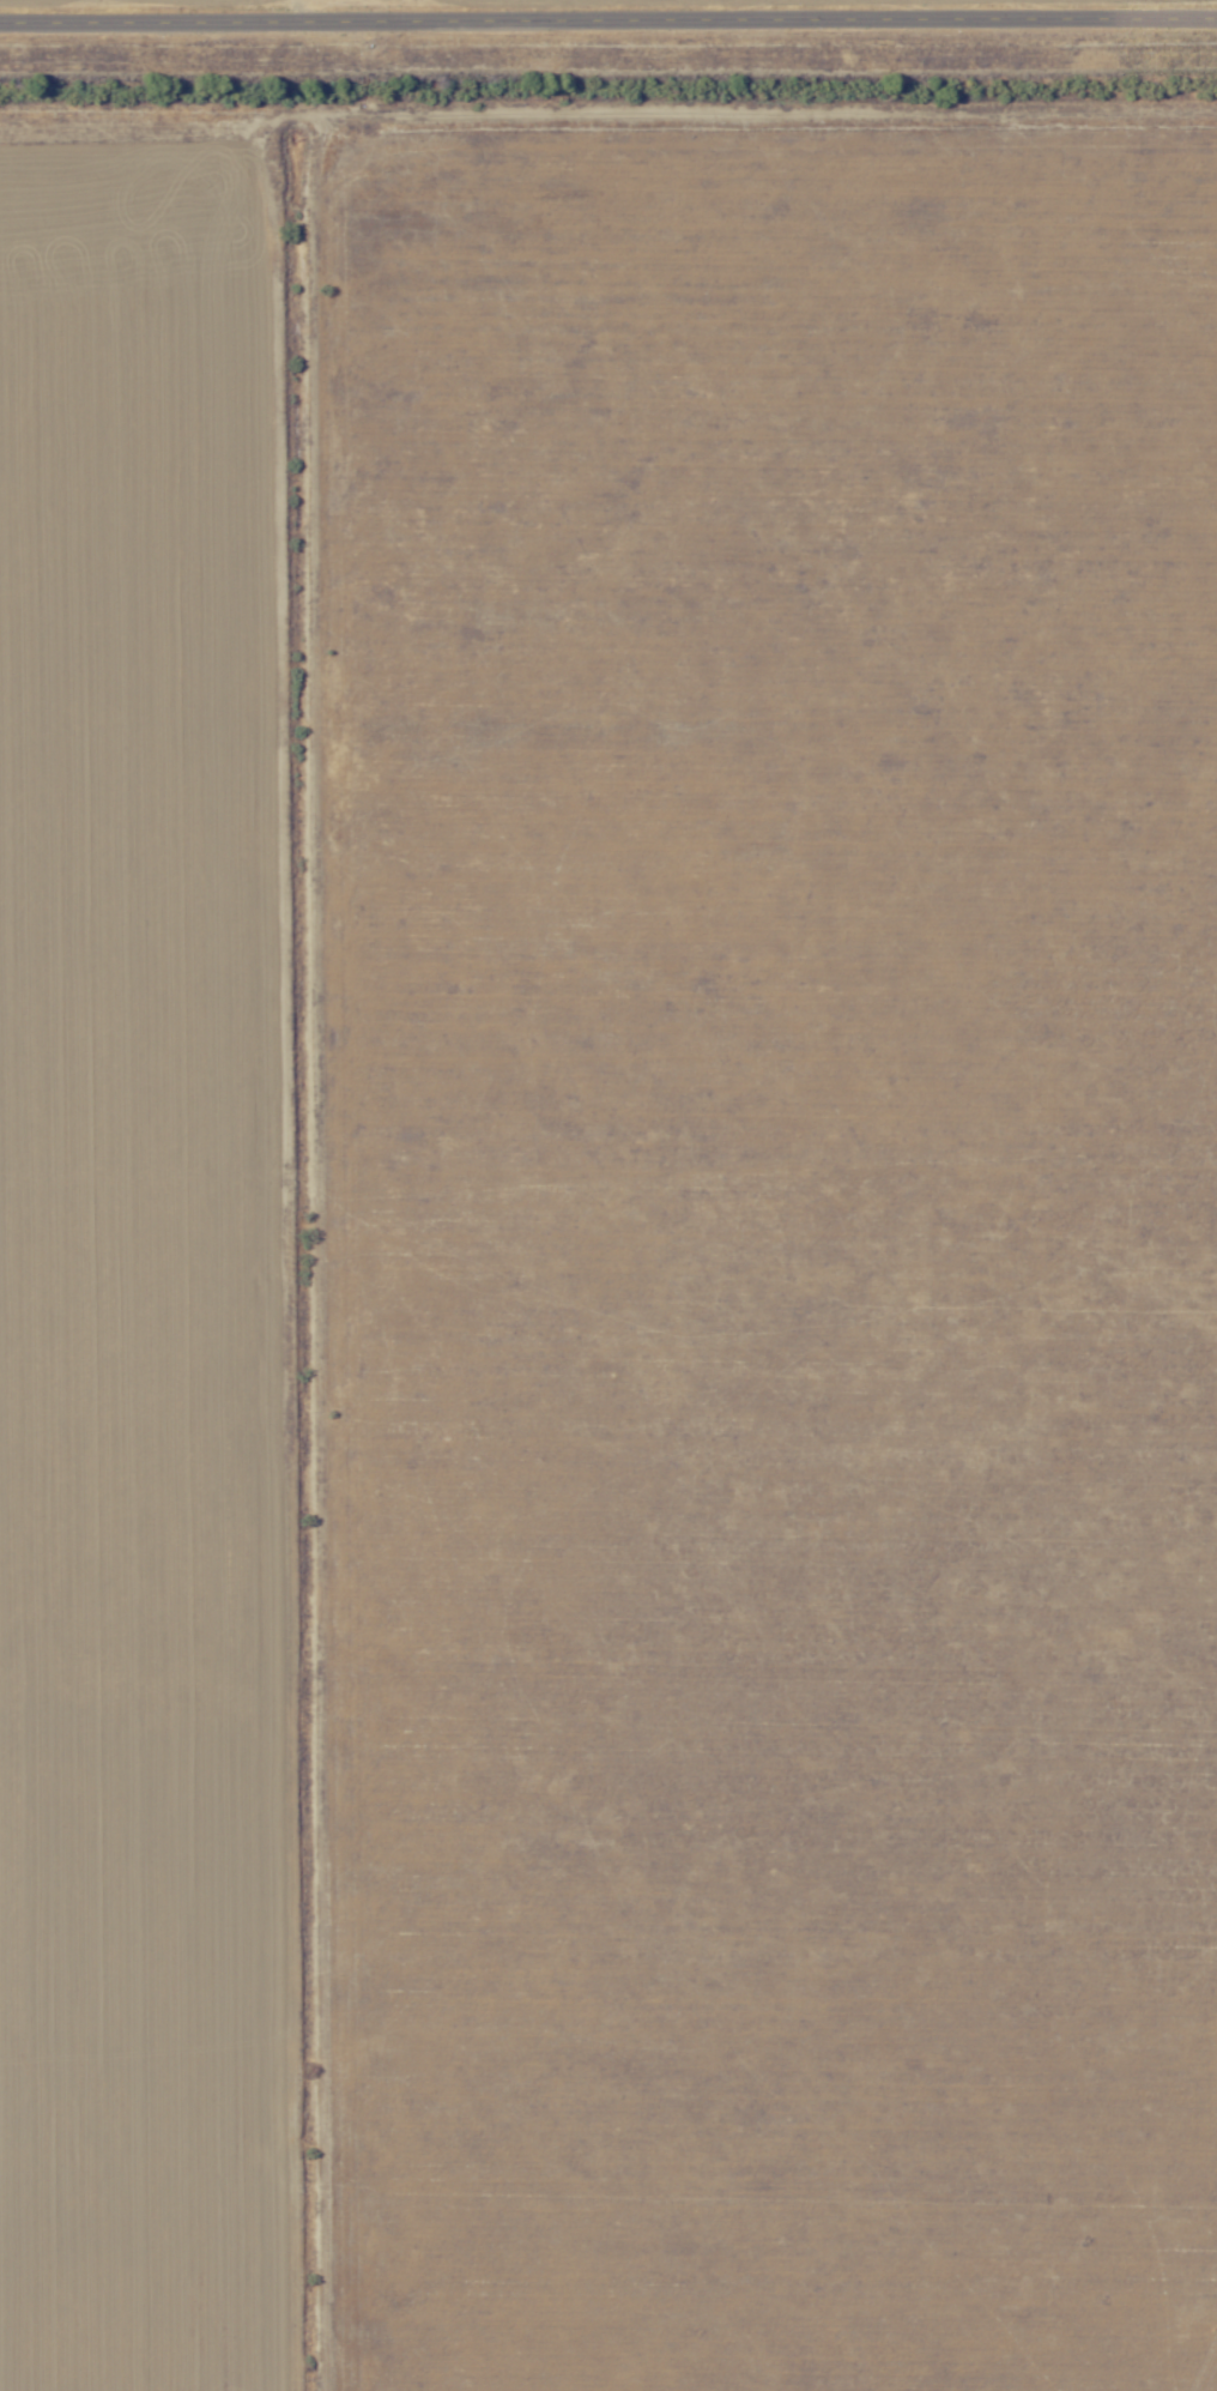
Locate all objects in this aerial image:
road: (607, 20)

